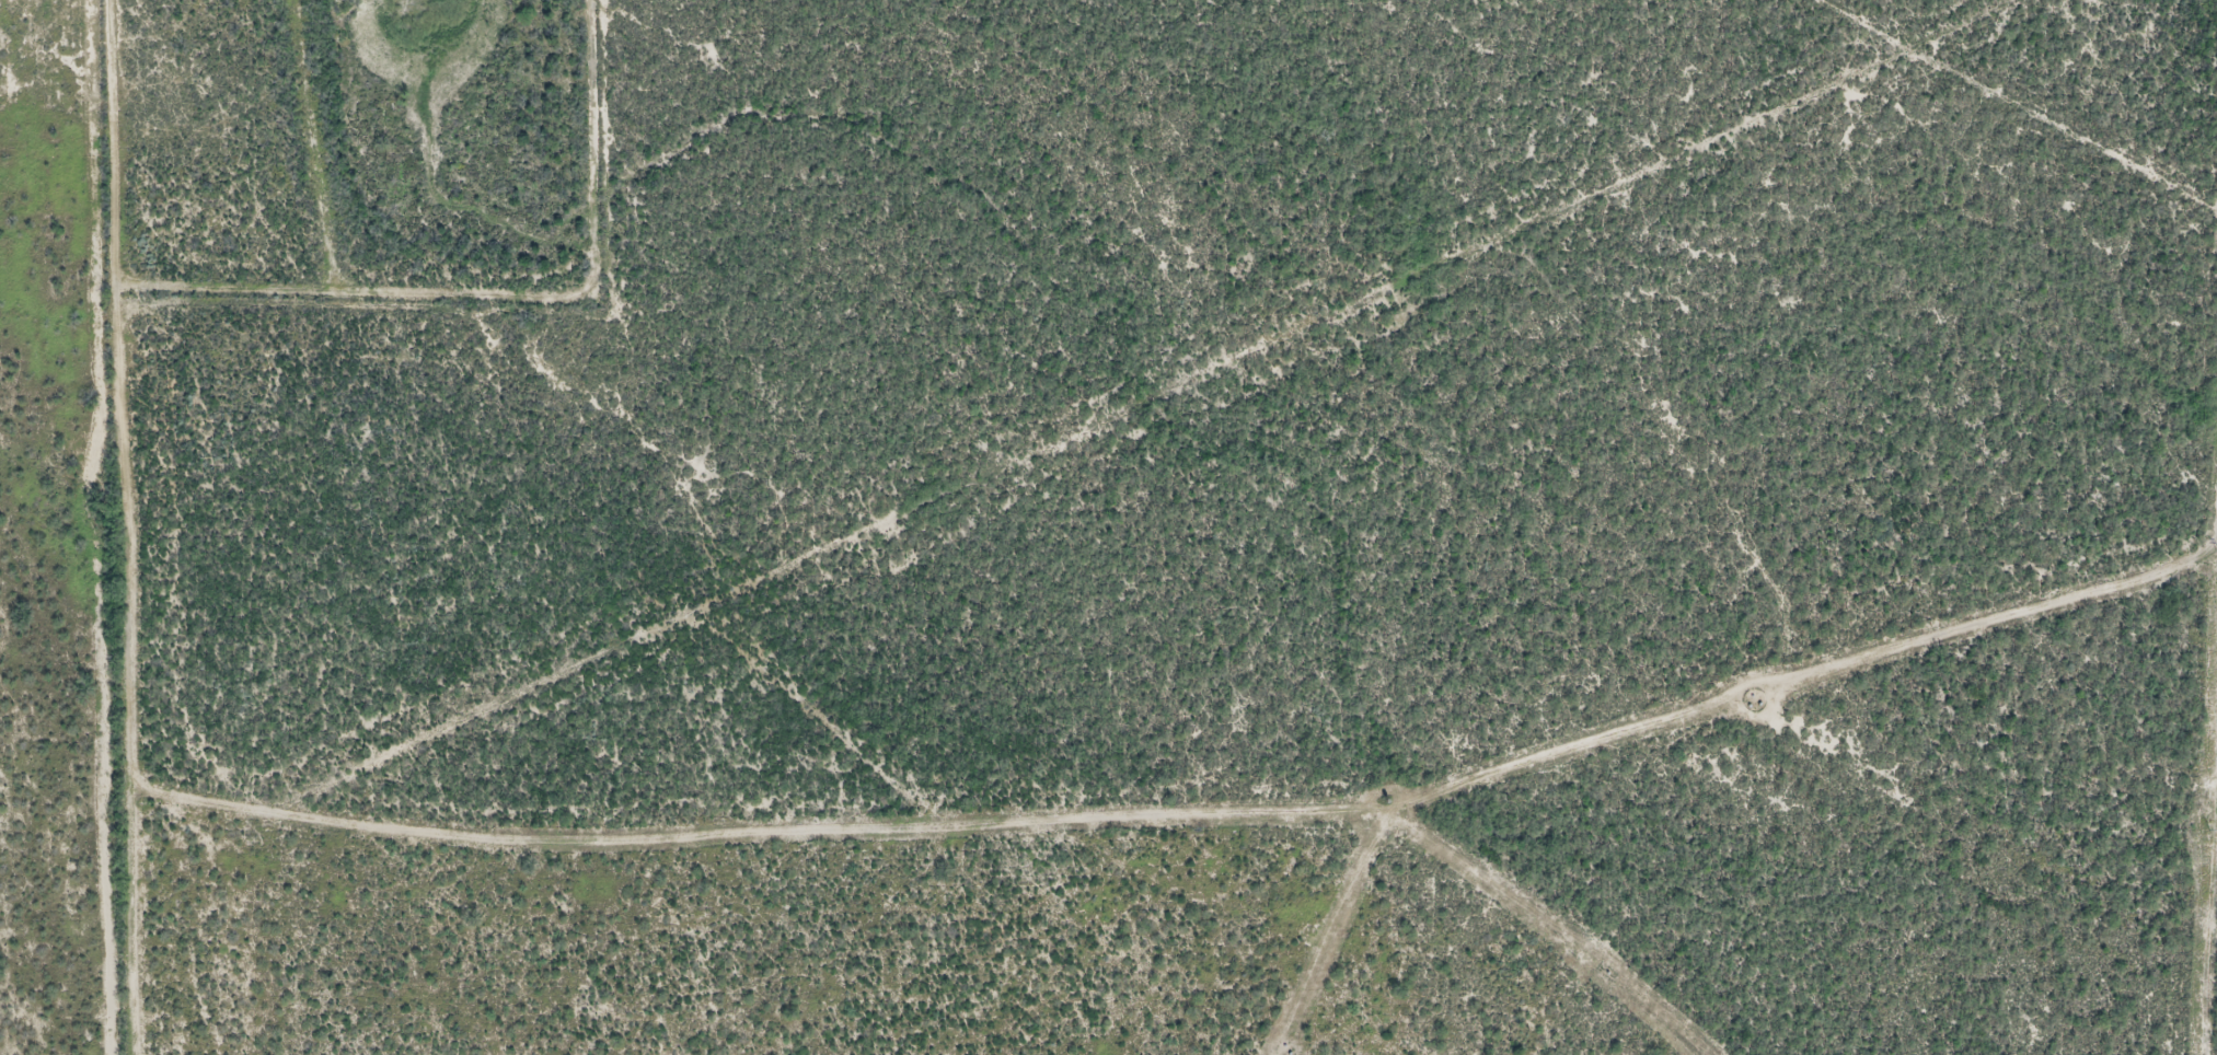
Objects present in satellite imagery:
power tower: (2209, 828)

